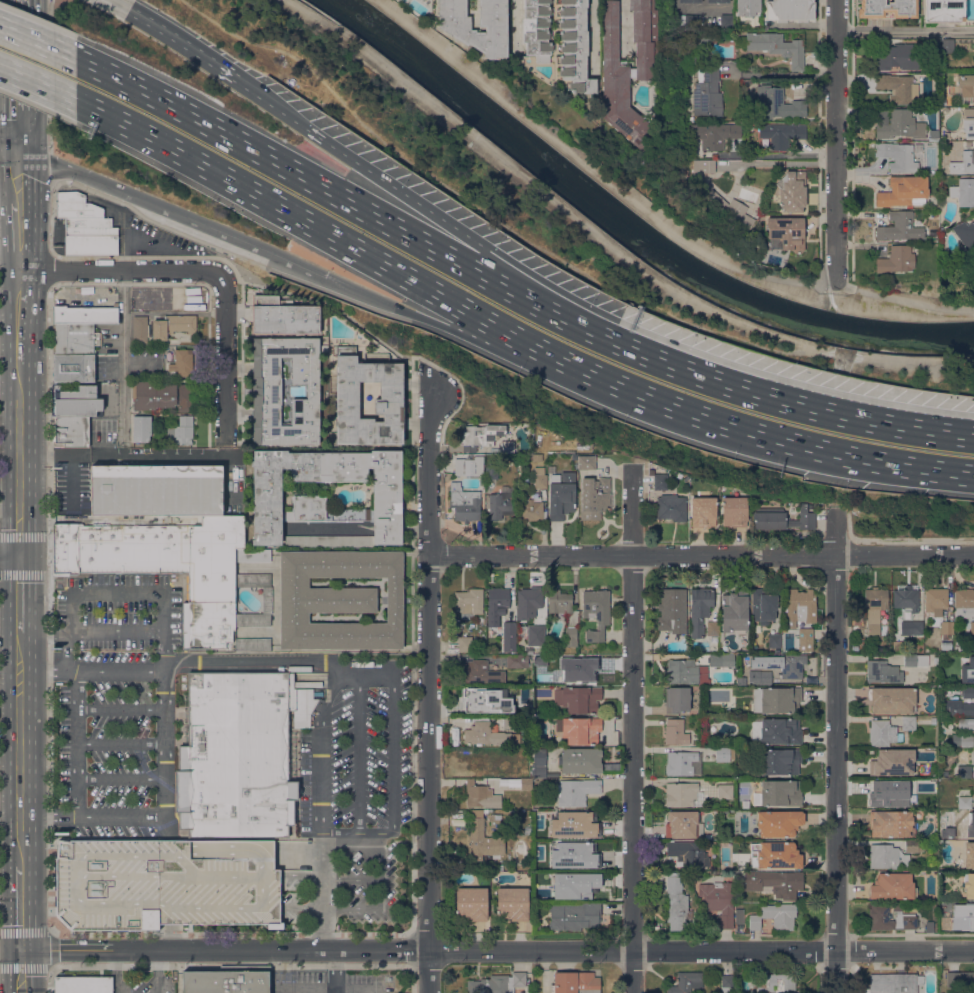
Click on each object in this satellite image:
building: (690, 1)
building: (718, 1)
building: (747, 7)
building: (887, 8)
building: (790, 10)
building: (943, 10)
building: (688, 20)
building: (727, 21)
road: (515, 24)
road: (805, 24)
road: (622, 27)
building: (536, 29)
building: (458, 30)
road: (905, 31)
road: (174, 36)
building: (706, 38)
road: (37, 42)
building: (930, 45)
building: (947, 45)
building: (574, 46)
building: (778, 47)
building: (973, 51)
building: (898, 56)
building: (628, 68)
road: (780, 74)
road: (21, 75)
road: (49, 75)
building: (745, 82)
building: (966, 83)
road: (37, 84)
building: (897, 87)
building: (708, 93)
building: (776, 103)
road: (278, 108)
building: (968, 122)
building: (898, 123)
building: (714, 134)
building: (782, 134)
building: (933, 134)
road: (836, 141)
road: (11, 145)
traffic signals: (22, 151)
building: (897, 156)
building: (965, 159)
road: (779, 163)
building: (703, 166)
road: (50, 168)
building: (682, 170)
road: (21, 175)
building: (791, 191)
building: (903, 191)
building: (963, 191)
road: (10, 200)
building: (724, 206)
road: (648, 211)
road: (369, 213)
road: (172, 214)
road: (51, 217)
building: (85, 225)
building: (899, 227)
river: (627, 229)
building: (787, 232)
road: (20, 234)
building: (965, 234)
road: (338, 239)
road: (603, 243)
road: (494, 253)
road: (10, 258)
building: (896, 260)
road: (48, 268)
road: (120, 270)
building: (191, 290)
building: (193, 299)
building: (138, 305)
building: (85, 314)
building: (283, 316)
road: (20, 318)
building: (173, 325)
building: (140, 328)
road: (460, 333)
building: (75, 338)
road: (123, 354)
road: (225, 358)
building: (182, 362)
building: (73, 368)
road: (19, 382)
building: (391, 389)
building: (266, 390)
building: (161, 395)
building: (75, 401)
road: (818, 409)
building: (141, 428)
building: (181, 430)
building: (70, 431)
building: (480, 435)
road: (784, 441)
building: (507, 446)
building: (574, 456)
building: (537, 457)
road: (19, 458)
building: (586, 462)
building: (468, 466)
building: (491, 473)
building: (539, 477)
building: (660, 481)
building: (670, 481)
building: (156, 489)
building: (522, 493)
building: (561, 495)
building: (594, 497)
building: (309, 499)
building: (464, 502)
building: (499, 506)
building: (671, 507)
building: (530, 510)
building: (703, 511)
building: (734, 511)
building: (782, 518)
road: (22, 535)
road: (19, 537)
road: (10, 555)
traffic signals: (20, 555)
road: (700, 555)
building: (168, 565)
road: (22, 572)
road: (955, 575)
road: (20, 593)
road: (116, 593)
building: (906, 598)
building: (266, 599)
building: (339, 599)
building: (936, 600)
building: (468, 601)
building: (528, 601)
building: (559, 602)
building: (964, 602)
building: (496, 604)
building: (763, 606)
building: (798, 607)
building: (874, 608)
road: (46, 609)
building: (700, 609)
building: (672, 610)
building: (734, 610)
building: (596, 612)
building: (912, 627)
building: (972, 627)
building: (539, 628)
building: (713, 628)
building: (946, 628)
road: (43, 631)
road: (67, 631)
road: (115, 632)
building: (509, 636)
building: (571, 636)
building: (805, 639)
building: (774, 640)
building: (889, 642)
building: (465, 643)
building: (253, 644)
building: (946, 645)
building: (898, 647)
building: (957, 649)
road: (20, 651)
building: (936, 659)
building: (517, 660)
building: (721, 660)
building: (910, 660)
building: (923, 660)
road: (251, 663)
building: (783, 664)
building: (571, 669)
building: (967, 670)
road: (43, 671)
road: (115, 671)
building: (686, 671)
building: (883, 671)
building: (481, 672)
building: (760, 676)
building: (740, 680)
road: (19, 682)
road: (428, 692)
building: (968, 692)
building: (579, 698)
building: (677, 699)
building: (776, 699)
building: (892, 699)
building: (485, 700)
parking lot: (115, 702)
road: (164, 705)
road: (121, 707)
building: (960, 708)
building: (933, 720)
building: (509, 721)
building: (909, 722)
building: (966, 723)
road: (632, 728)
building: (579, 729)
building: (754, 729)
building: (780, 730)
building: (675, 731)
building: (883, 733)
building: (488, 734)
building: (966, 740)
road: (394, 741)
road: (120, 742)
road: (77, 744)
road: (836, 750)
building: (239, 753)
building: (722, 753)
building: (973, 759)
building: (581, 760)
building: (780, 761)
building: (892, 761)
building: (476, 762)
building: (680, 762)
road: (19, 764)
building: (539, 764)
road: (360, 765)
building: (964, 770)
road: (120, 779)
building: (526, 783)
building: (928, 783)
building: (725, 790)
building: (575, 791)
building: (780, 792)
building: (683, 794)
building: (481, 795)
building: (887, 795)
building: (964, 802)
road: (320, 807)
road: (120, 818)
building: (496, 820)
building: (891, 822)
building: (778, 823)
building: (572, 824)
building: (680, 825)
road: (164, 828)
building: (528, 830)
building: (582, 833)
building: (963, 833)
building: (483, 837)
building: (913, 845)
road: (20, 850)
building: (688, 853)
building: (571, 855)
building: (778, 855)
building: (969, 855)
building: (887, 856)
building: (551, 875)
building: (539, 877)
road: (379, 878)
road: (350, 879)
building: (775, 882)
building: (165, 883)
building: (969, 885)
building: (892, 886)
building: (578, 888)
building: (719, 899)
building: (471, 902)
building: (512, 902)
building: (676, 904)
road: (20, 907)
building: (575, 915)
building: (738, 916)
building: (775, 916)
building: (906, 916)
building: (965, 919)
building: (929, 926)
road: (169, 936)
road: (50, 948)
traffic signals: (21, 949)
road: (497, 950)
road: (243, 963)
road: (337, 969)
road: (21, 971)
road: (116, 971)
road: (157, 971)
road: (48, 978)
building: (959, 978)
parking lot: (144, 980)
building: (229, 980)
parking lot: (331, 982)
building: (575, 982)
building: (687, 982)
building: (497, 983)
building: (726, 983)
building: (776, 983)
building: (895, 983)
building: (83, 984)
road: (323, 988)
road: (337, 991)
road: (375, 991)

